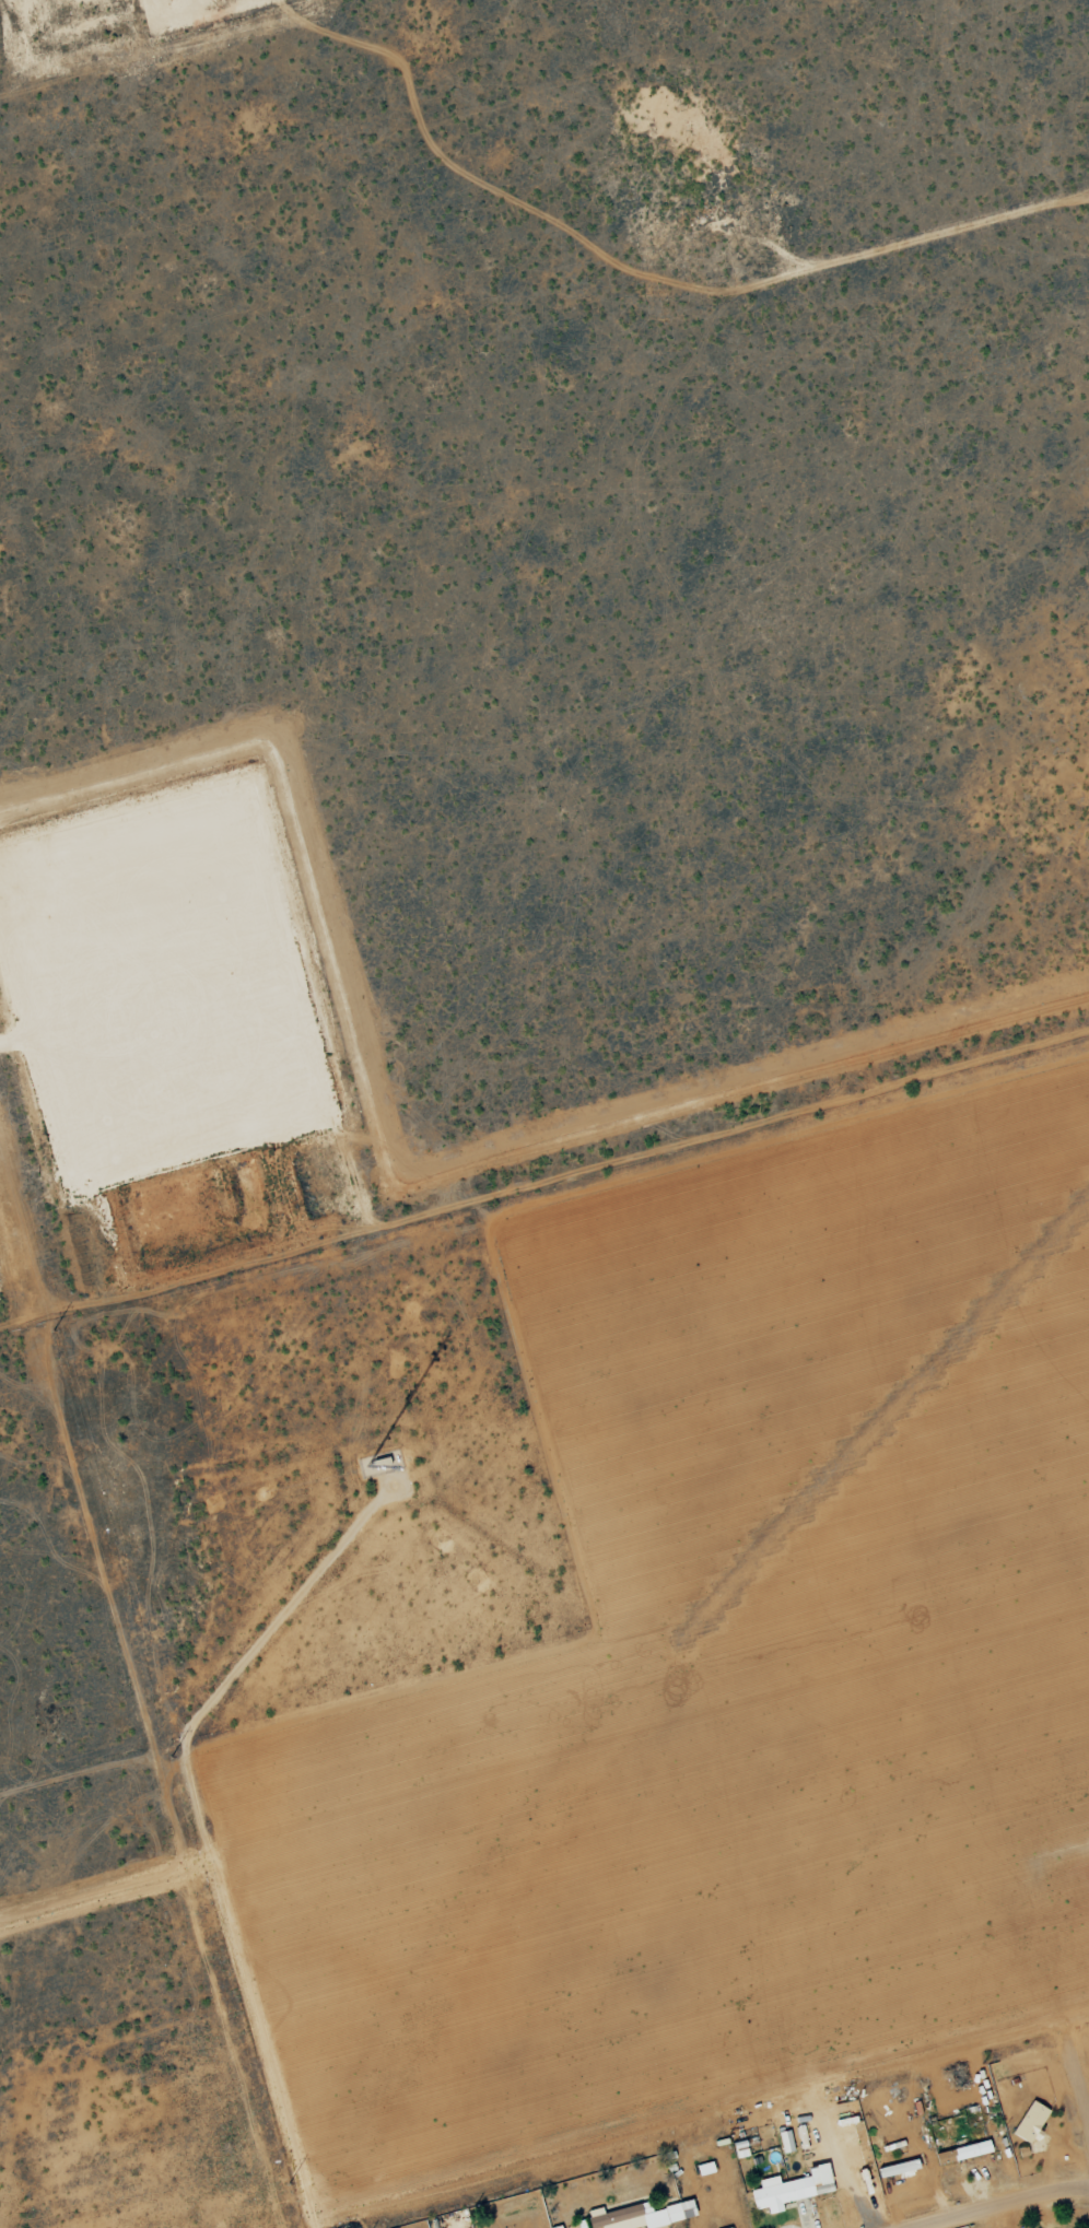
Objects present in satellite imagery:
power tower: (52, 1330)
power tower: (171, 1758)
road: (1078, 2080)
building: (1029, 2123)
building: (784, 2142)
power tower: (289, 2184)
building: (783, 2193)
road: (1009, 2207)

